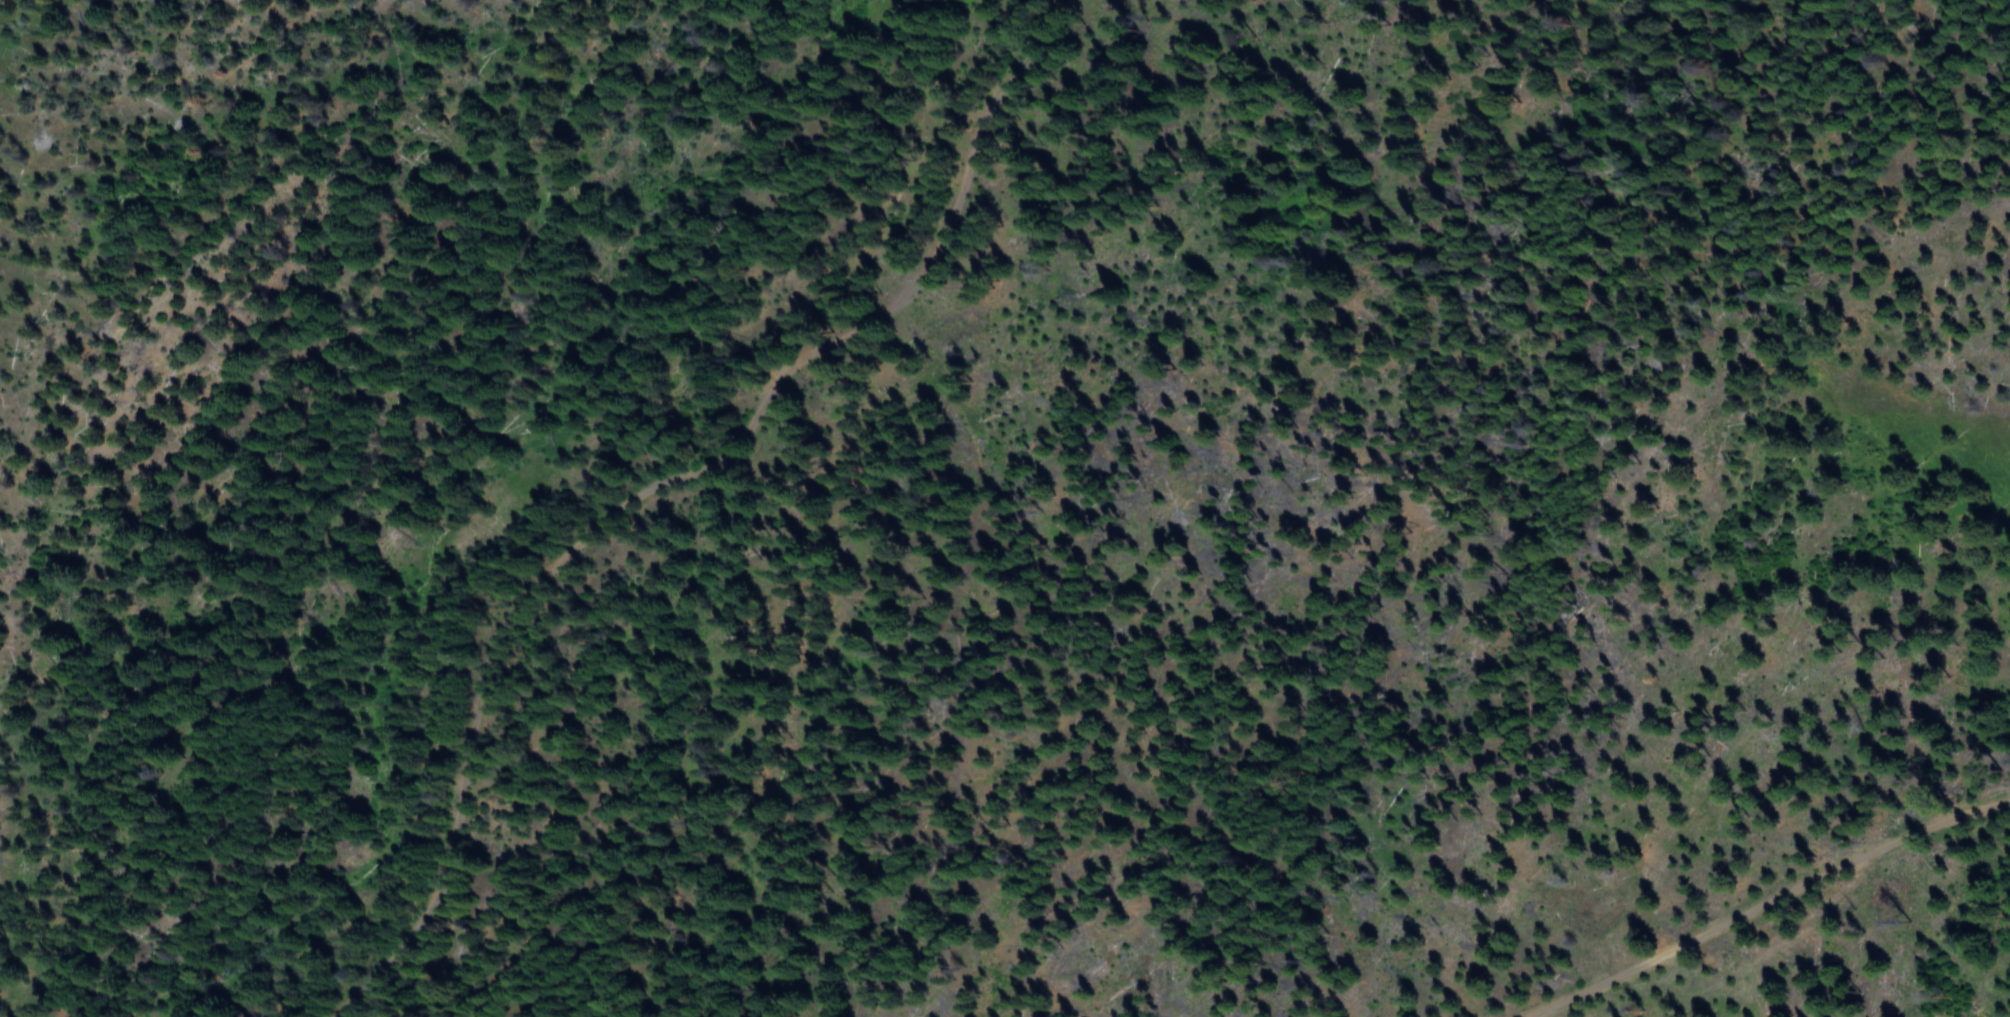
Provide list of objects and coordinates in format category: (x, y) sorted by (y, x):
road: (664, 483)
road: (1763, 902)

